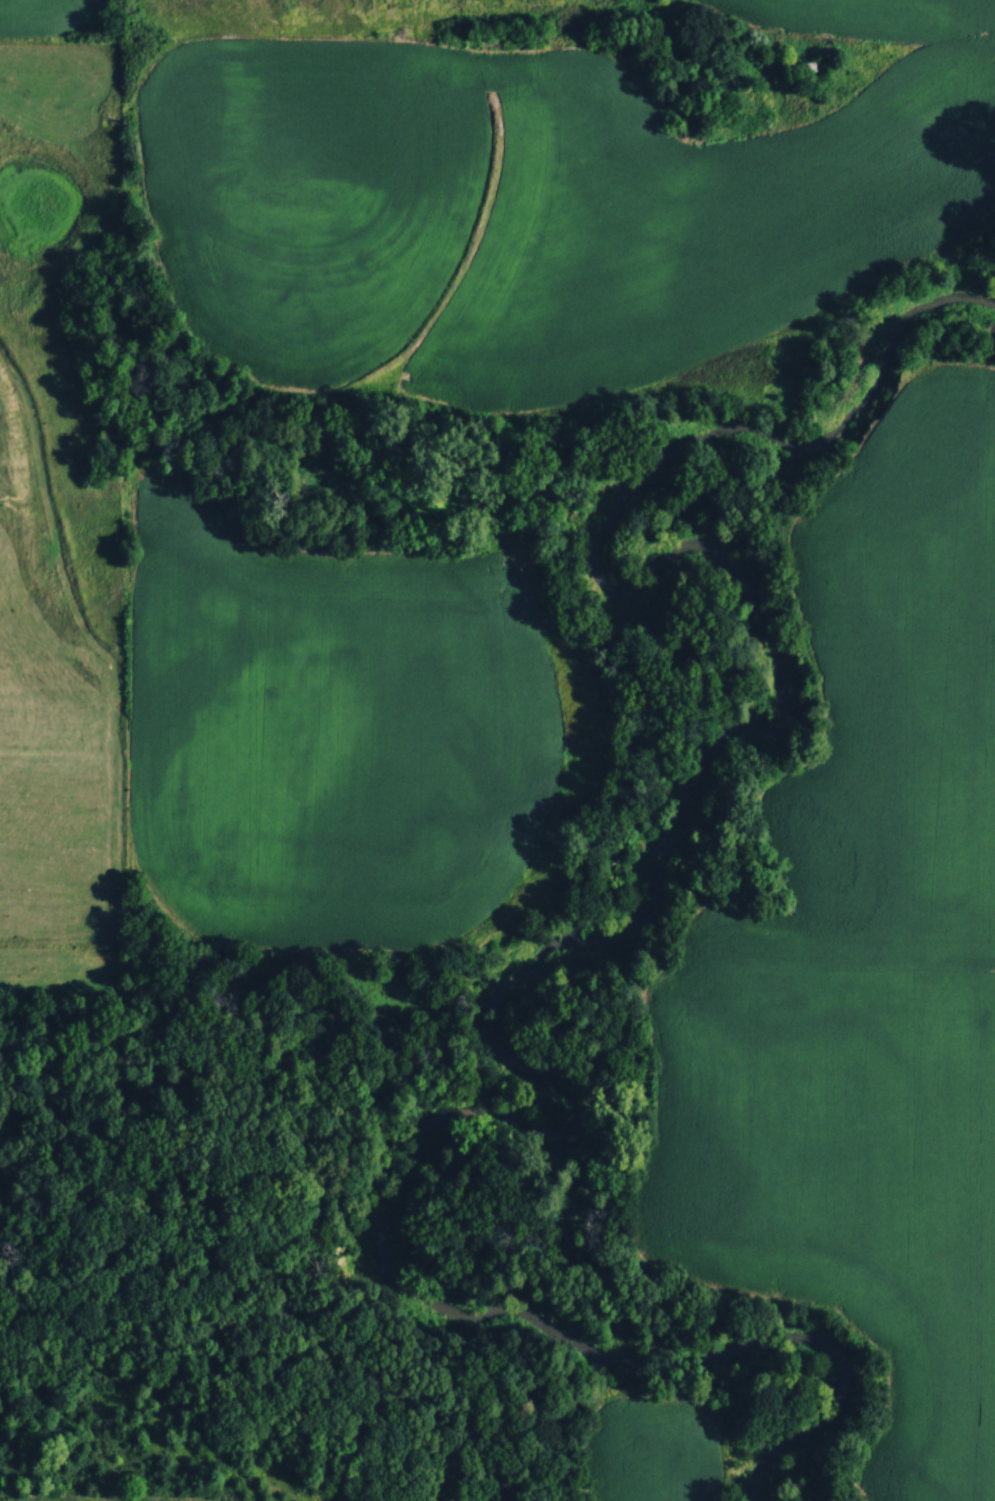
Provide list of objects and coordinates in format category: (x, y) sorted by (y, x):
building: (802, 65)

